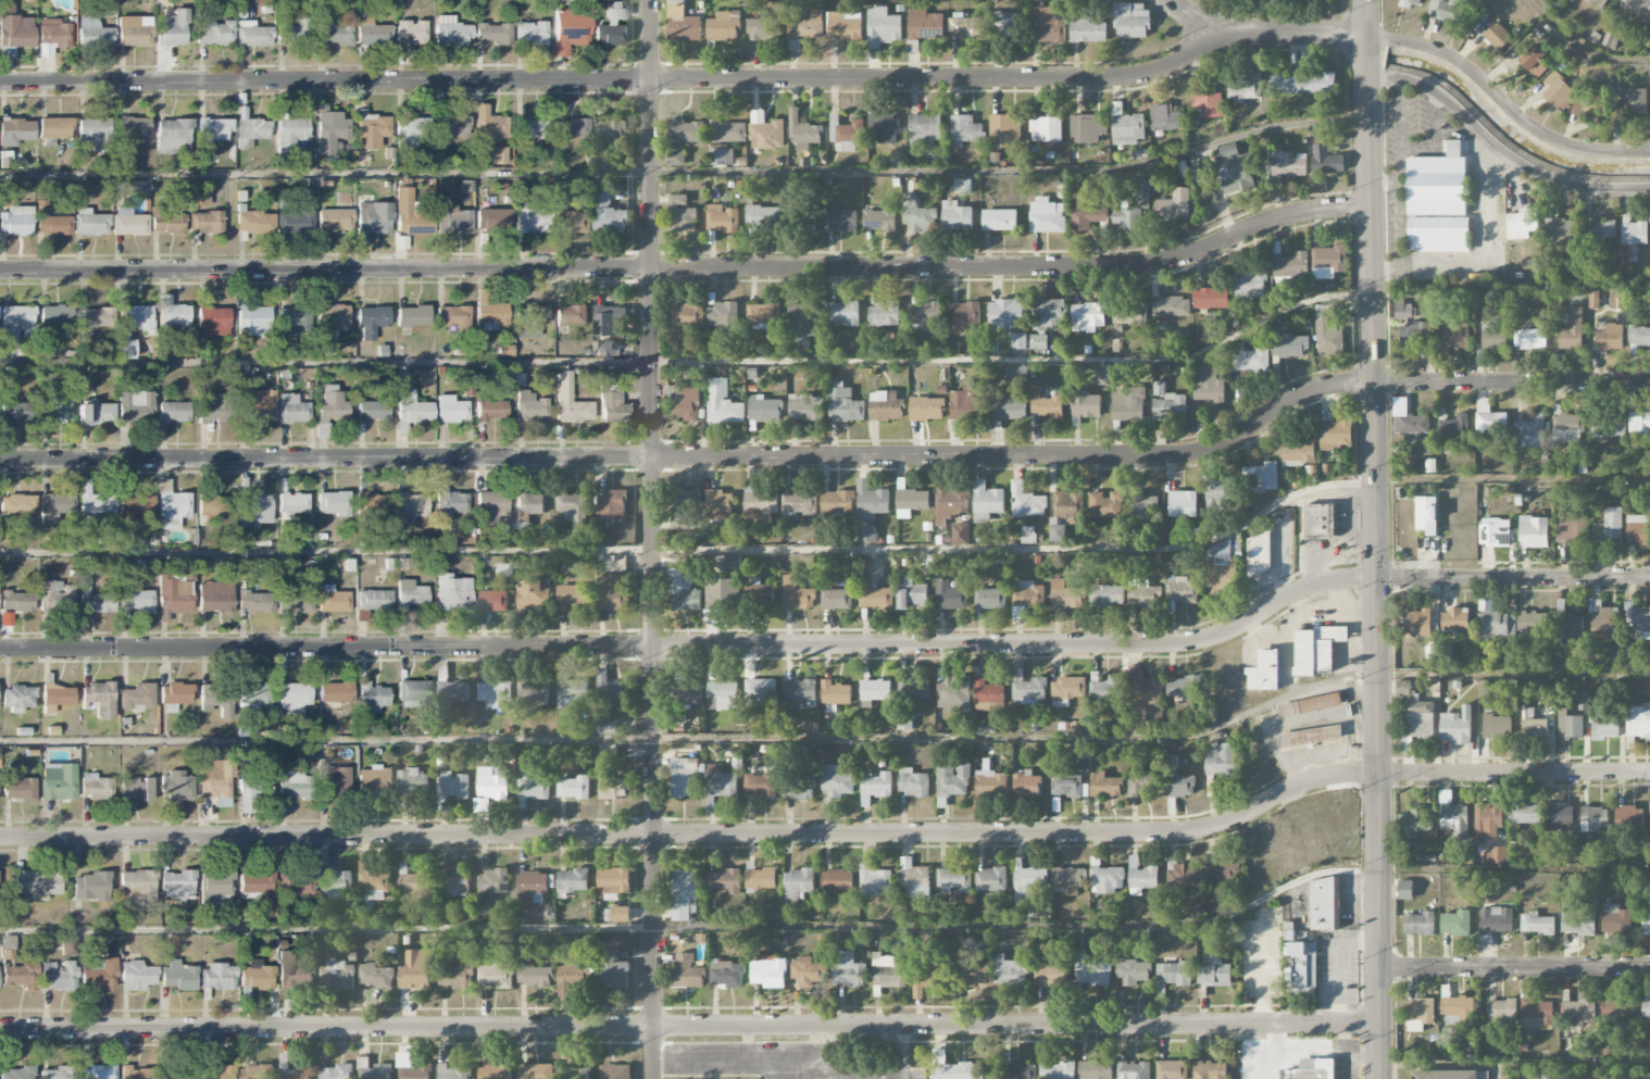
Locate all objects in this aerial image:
building: (1599, 2)
building: (1411, 3)
building: (1446, 9)
building: (1635, 10)
road: (1202, 20)
building: (1130, 21)
building: (682, 23)
building: (1005, 24)
building: (925, 25)
building: (724, 26)
building: (845, 26)
building: (965, 26)
building: (1047, 26)
building: (14, 27)
building: (883, 27)
building: (172, 28)
building: (611, 28)
building: (570, 29)
building: (764, 29)
building: (134, 30)
building: (1087, 30)
building: (213, 32)
building: (450, 32)
building: (92, 33)
building: (292, 33)
building: (371, 33)
building: (529, 33)
building: (334, 34)
building: (491, 34)
building: (252, 35)
building: (51, 36)
building: (409, 36)
building: (1497, 36)
building: (1612, 36)
road: (1583, 47)
building: (1536, 60)
road: (688, 78)
building: (1302, 83)
building: (1246, 88)
building: (1558, 90)
building: (1205, 99)
building: (1636, 101)
road: (1504, 104)
building: (1590, 105)
road: (1401, 112)
building: (1164, 118)
building: (450, 126)
building: (54, 127)
building: (133, 127)
building: (884, 127)
building: (489, 128)
building: (529, 128)
building: (571, 128)
building: (1127, 128)
building: (371, 129)
building: (610, 129)
building: (925, 129)
building: (1004, 129)
building: (1045, 129)
building: (1087, 129)
building: (15, 130)
building: (212, 130)
building: (250, 130)
building: (329, 130)
building: (965, 130)
building: (410, 131)
building: (685, 131)
building: (727, 131)
building: (93, 133)
building: (766, 133)
building: (803, 133)
building: (846, 133)
road: (1433, 134)
building: (289, 135)
road: (1500, 152)
building: (498, 155)
building: (721, 156)
building: (676, 158)
building: (1326, 160)
road: (1483, 161)
road: (1400, 163)
building: (1288, 164)
road: (1012, 170)
building: (1237, 171)
road: (325, 172)
road: (1384, 181)
building: (1437, 184)
building: (963, 186)
building: (1142, 188)
building: (202, 200)
building: (1173, 206)
building: (410, 214)
building: (609, 214)
building: (680, 214)
building: (1047, 215)
building: (957, 216)
building: (1088, 216)
building: (764, 217)
building: (1126, 217)
building: (492, 218)
building: (530, 218)
building: (723, 218)
building: (879, 218)
building: (921, 218)
building: (372, 219)
building: (452, 219)
building: (999, 219)
building: (15, 221)
building: (165, 221)
building: (293, 221)
building: (334, 221)
building: (841, 221)
building: (49, 222)
building: (128, 222)
building: (254, 222)
building: (573, 222)
building: (89, 223)
building: (204, 223)
road: (1400, 225)
building: (1521, 225)
building: (1599, 230)
building: (1561, 231)
building: (1634, 233)
building: (1438, 234)
building: (1328, 262)
building: (1291, 265)
road: (1463, 266)
road: (689, 268)
building: (1249, 285)
building: (1211, 298)
building: (1171, 306)
building: (1403, 310)
building: (171, 312)
building: (490, 313)
building: (843, 313)
building: (1008, 313)
building: (54, 315)
building: (452, 315)
building: (572, 315)
building: (763, 315)
building: (924, 315)
building: (1126, 315)
building: (412, 316)
building: (883, 316)
building: (964, 316)
building: (95, 317)
building: (685, 317)
building: (724, 317)
building: (801, 317)
building: (1087, 317)
building: (292, 319)
building: (332, 319)
building: (529, 319)
building: (213, 321)
building: (253, 321)
building: (371, 321)
building: (610, 321)
building: (1046, 321)
building: (15, 325)
building: (1455, 330)
building: (1572, 330)
building: (122, 335)
building: (1412, 335)
building: (1639, 336)
building: (1327, 337)
building: (1493, 337)
building: (1610, 338)
building: (1529, 339)
building: (1018, 341)
building: (1289, 346)
building: (604, 349)
road: (691, 360)
building: (1252, 361)
building: (1016, 376)
building: (1101, 376)
building: (1209, 386)
building: (684, 400)
building: (568, 401)
building: (722, 404)
building: (845, 404)
building: (967, 404)
building: (1008, 404)
building: (1046, 404)
building: (1128, 404)
building: (1167, 404)
building: (53, 405)
building: (255, 405)
building: (330, 405)
building: (611, 405)
building: (886, 405)
building: (1085, 405)
building: (134, 406)
building: (529, 406)
building: (212, 407)
building: (412, 407)
building: (804, 407)
building: (291, 409)
building: (450, 409)
building: (764, 409)
building: (926, 409)
building: (491, 410)
building: (372, 411)
building: (14, 412)
building: (173, 412)
building: (97, 413)
building: (1489, 423)
building: (1411, 424)
building: (1639, 426)
building: (1453, 427)
building: (1608, 427)
building: (1566, 428)
building: (1529, 432)
building: (1335, 435)
building: (1298, 451)
road: (833, 455)
building: (1261, 477)
building: (1216, 497)
building: (93, 500)
building: (688, 500)
building: (526, 501)
building: (871, 501)
building: (1026, 501)
building: (291, 502)
building: (448, 502)
building: (911, 502)
building: (950, 502)
building: (987, 502)
building: (333, 503)
building: (370, 503)
building: (838, 503)
building: (1068, 503)
building: (16, 504)
building: (135, 504)
building: (761, 504)
building: (799, 504)
building: (1183, 504)
building: (718, 505)
building: (1107, 505)
building: (54, 506)
building: (491, 506)
building: (610, 506)
building: (410, 507)
building: (572, 507)
building: (1143, 507)
building: (172, 509)
building: (212, 509)
building: (253, 509)
building: (1426, 515)
building: (1317, 520)
building: (1609, 525)
building: (1571, 527)
building: (1057, 530)
building: (1637, 530)
building: (1533, 531)
building: (1495, 532)
building: (867, 534)
road: (651, 539)
road: (1375, 539)
road: (695, 549)
building: (733, 563)
building: (1221, 569)
traffic signals: (1376, 578)
building: (1182, 589)
building: (409, 591)
building: (682, 591)
road: (1390, 591)
building: (452, 592)
building: (612, 592)
building: (723, 592)
building: (533, 593)
building: (912, 593)
building: (759, 594)
building: (798, 594)
building: (1147, 594)
building: (55, 595)
building: (175, 595)
building: (215, 595)
building: (295, 595)
building: (570, 595)
building: (951, 595)
building: (1028, 595)
building: (1065, 595)
building: (1107, 595)
building: (91, 597)
building: (876, 598)
building: (374, 599)
building: (836, 599)
building: (990, 599)
building: (136, 600)
building: (16, 601)
building: (253, 601)
building: (334, 601)
building: (491, 601)
building: (1454, 619)
building: (1604, 620)
building: (1417, 623)
building: (1533, 623)
building: (1638, 623)
building: (1498, 627)
building: (1571, 628)
road: (832, 647)
building: (1316, 648)
building: (1264, 672)
building: (1184, 688)
building: (913, 689)
building: (1103, 689)
building: (1066, 690)
building: (335, 691)
building: (452, 691)
building: (875, 691)
building: (1029, 691)
building: (412, 692)
building: (570, 692)
building: (686, 692)
building: (759, 692)
building: (799, 692)
building: (952, 692)
building: (174, 693)
building: (493, 693)
building: (530, 693)
building: (723, 693)
building: (836, 693)
building: (1146, 693)
building: (253, 695)
building: (55, 697)
building: (137, 697)
building: (607, 697)
building: (989, 697)
building: (17, 698)
building: (99, 698)
building: (293, 698)
building: (372, 698)
building: (216, 699)
building: (1583, 701)
building: (1310, 705)
building: (1414, 714)
building: (904, 720)
building: (1638, 723)
building: (1570, 725)
building: (1457, 726)
building: (1497, 726)
building: (1533, 726)
building: (1604, 727)
road: (693, 736)
building: (1310, 736)
building: (1221, 758)
building: (609, 775)
building: (684, 777)
building: (334, 780)
building: (412, 780)
building: (952, 780)
building: (58, 781)
building: (295, 781)
building: (376, 781)
building: (836, 781)
building: (216, 782)
building: (912, 782)
building: (990, 782)
building: (1140, 782)
building: (720, 783)
building: (760, 785)
building: (1026, 785)
building: (1104, 785)
building: (176, 786)
building: (452, 786)
building: (490, 786)
building: (532, 786)
building: (1068, 786)
building: (1180, 786)
building: (93, 787)
building: (18, 788)
building: (136, 788)
building: (573, 788)
building: (875, 788)
building: (798, 789)
building: (253, 792)
building: (1524, 813)
building: (1559, 814)
building: (1629, 817)
building: (1593, 818)
building: (1454, 819)
building: (1487, 819)
building: (1414, 824)
road: (830, 833)
building: (1495, 856)
building: (1200, 876)
building: (760, 878)
building: (1105, 878)
building: (873, 879)
building: (953, 879)
building: (990, 879)
building: (723, 880)
building: (837, 880)
building: (1068, 880)
building: (1142, 880)
building: (373, 881)
building: (492, 881)
building: (572, 881)
building: (915, 881)
building: (38, 882)
building: (613, 882)
building: (799, 882)
building: (176, 883)
building: (335, 883)
building: (453, 883)
building: (214, 884)
building: (257, 884)
building: (293, 884)
building: (90, 887)
building: (136, 887)
building: (532, 887)
building: (1588, 888)
building: (413, 890)
building: (1405, 890)
building: (684, 893)
building: (1324, 904)
building: (621, 914)
building: (1577, 917)
building: (1614, 919)
building: (1495, 921)
building: (1455, 923)
building: (1420, 924)
building: (1536, 924)
building: (1645, 925)
road: (326, 928)
building: (68, 946)
road: (1514, 967)
building: (615, 969)
building: (1303, 969)
building: (293, 970)
building: (416, 970)
building: (687, 971)
building: (848, 971)
building: (887, 971)
building: (972, 971)
building: (1010, 971)
building: (1091, 971)
building: (1133, 971)
building: (768, 973)
building: (808, 973)
building: (1213, 973)
building: (1173, 974)
building: (98, 975)
building: (726, 975)
building: (1050, 975)
building: (20, 976)
building: (58, 976)
building: (137, 976)
building: (177, 976)
building: (255, 976)
building: (336, 976)
building: (375, 976)
building: (496, 976)
building: (535, 976)
building: (216, 977)
building: (455, 977)
building: (924, 977)
building: (568, 980)
building: (1458, 1009)
building: (1420, 1011)
building: (1501, 1011)
building: (1578, 1011)
building: (1618, 1011)
building: (1647, 1013)
building: (1536, 1015)
road: (689, 1027)
road: (748, 1041)
road: (901, 1052)
road: (761, 1056)
road: (780, 1067)
road: (823, 1068)
building: (952, 1068)
building: (292, 1069)
building: (373, 1069)
building: (1016, 1069)
building: (1096, 1069)
building: (1170, 1069)
building: (1311, 1069)
building: (414, 1070)
building: (1057, 1070)
building: (1133, 1070)
building: (1210, 1070)
building: (255, 1071)
building: (496, 1071)
building: (536, 1071)
building: (614, 1071)
building: (58, 1072)
building: (97, 1072)
building: (136, 1072)
building: (217, 1072)
building: (337, 1072)
building: (453, 1072)
building: (574, 1072)
building: (16, 1074)
building: (1642, 1074)
building: (1450, 1075)
building: (1507, 1075)
building: (1548, 1075)
building: (179, 1076)

